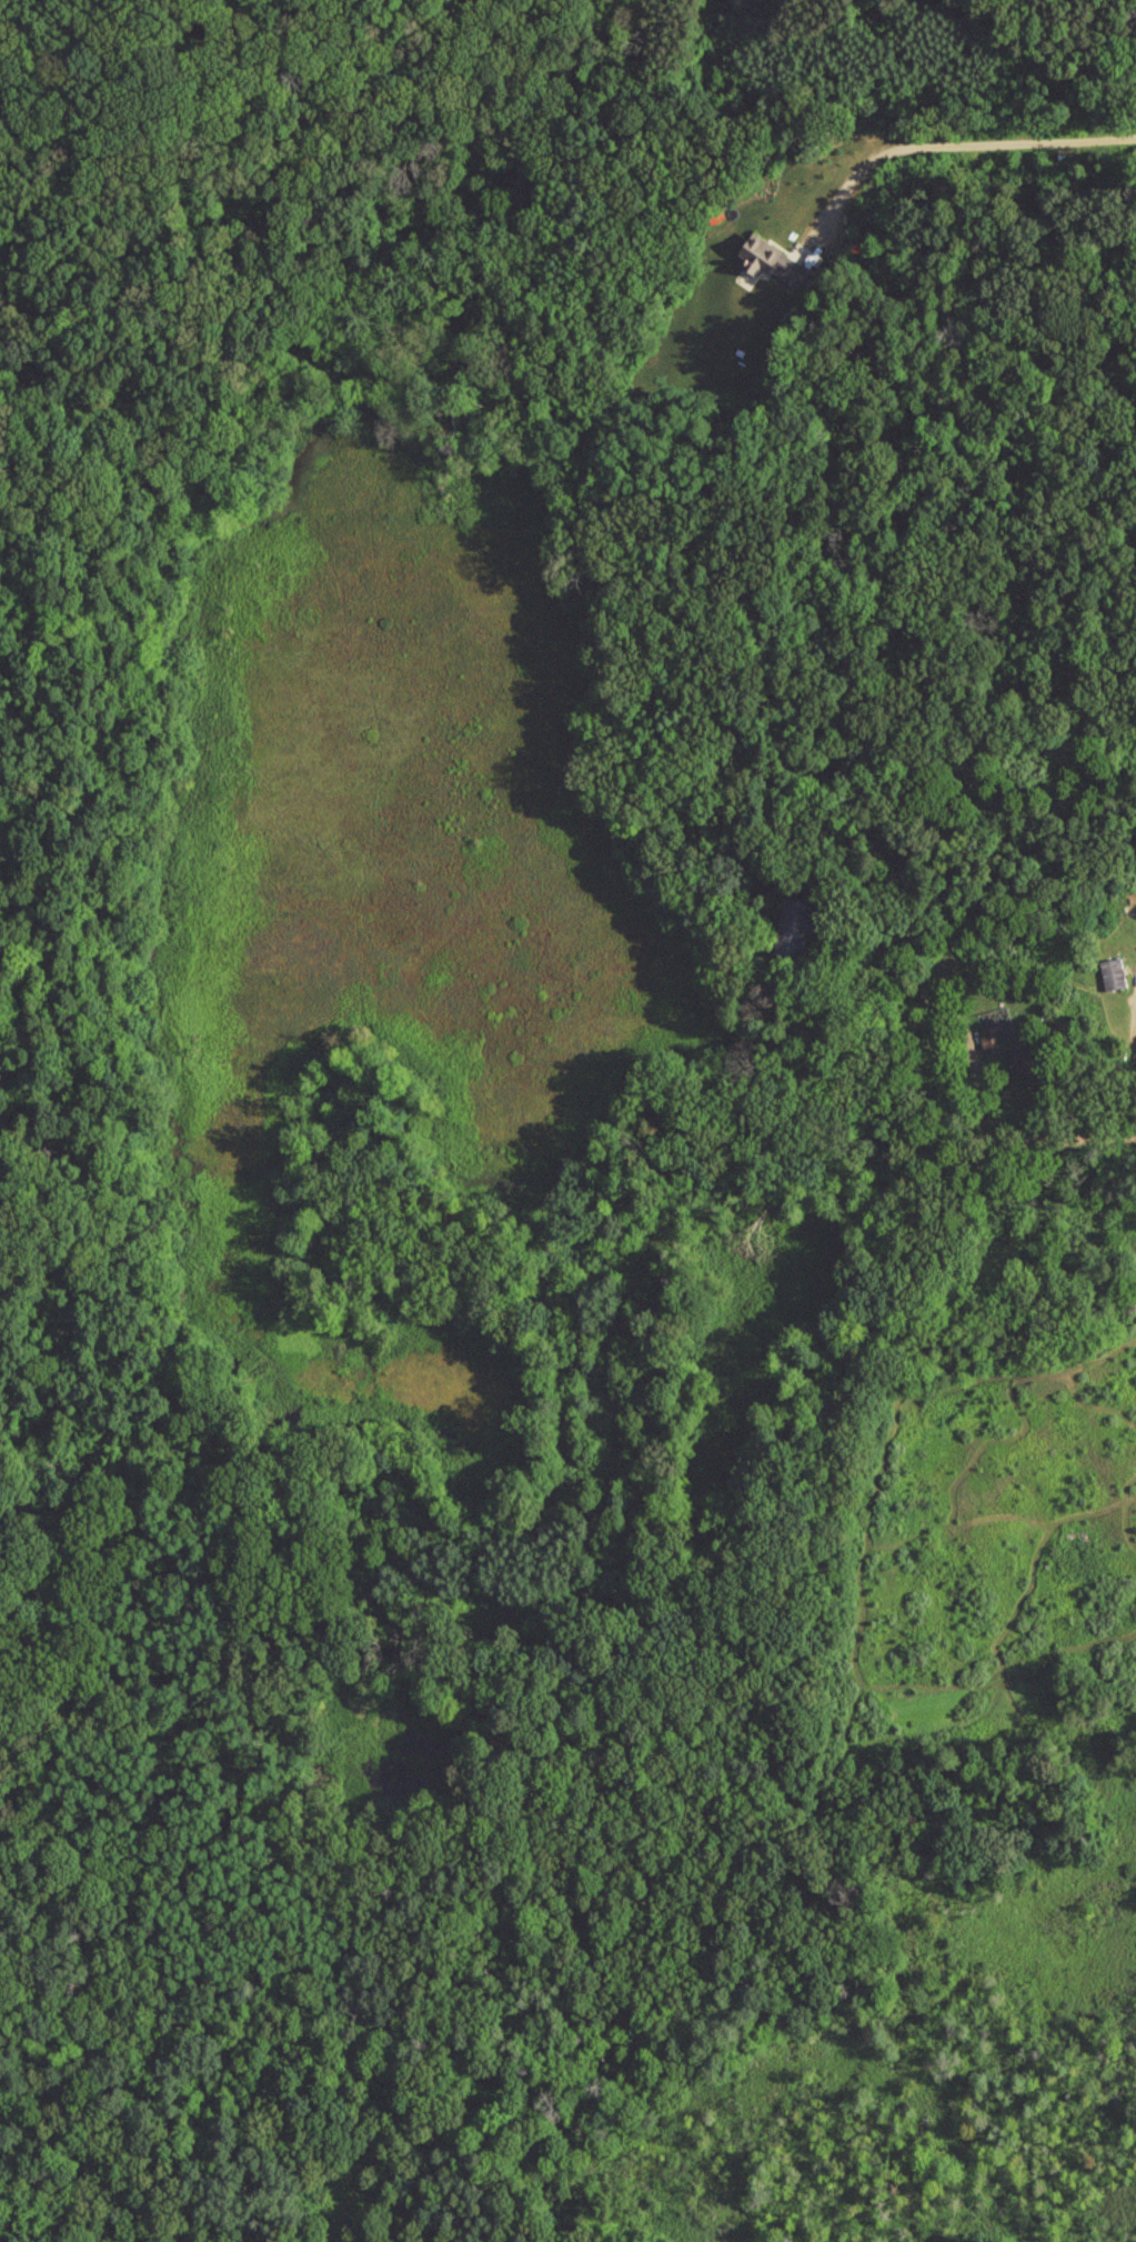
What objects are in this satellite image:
road: (964, 141)
building: (768, 263)
building: (1117, 980)
road: (973, 1028)
road: (1130, 1034)
building: (991, 1044)
road: (1084, 1128)

